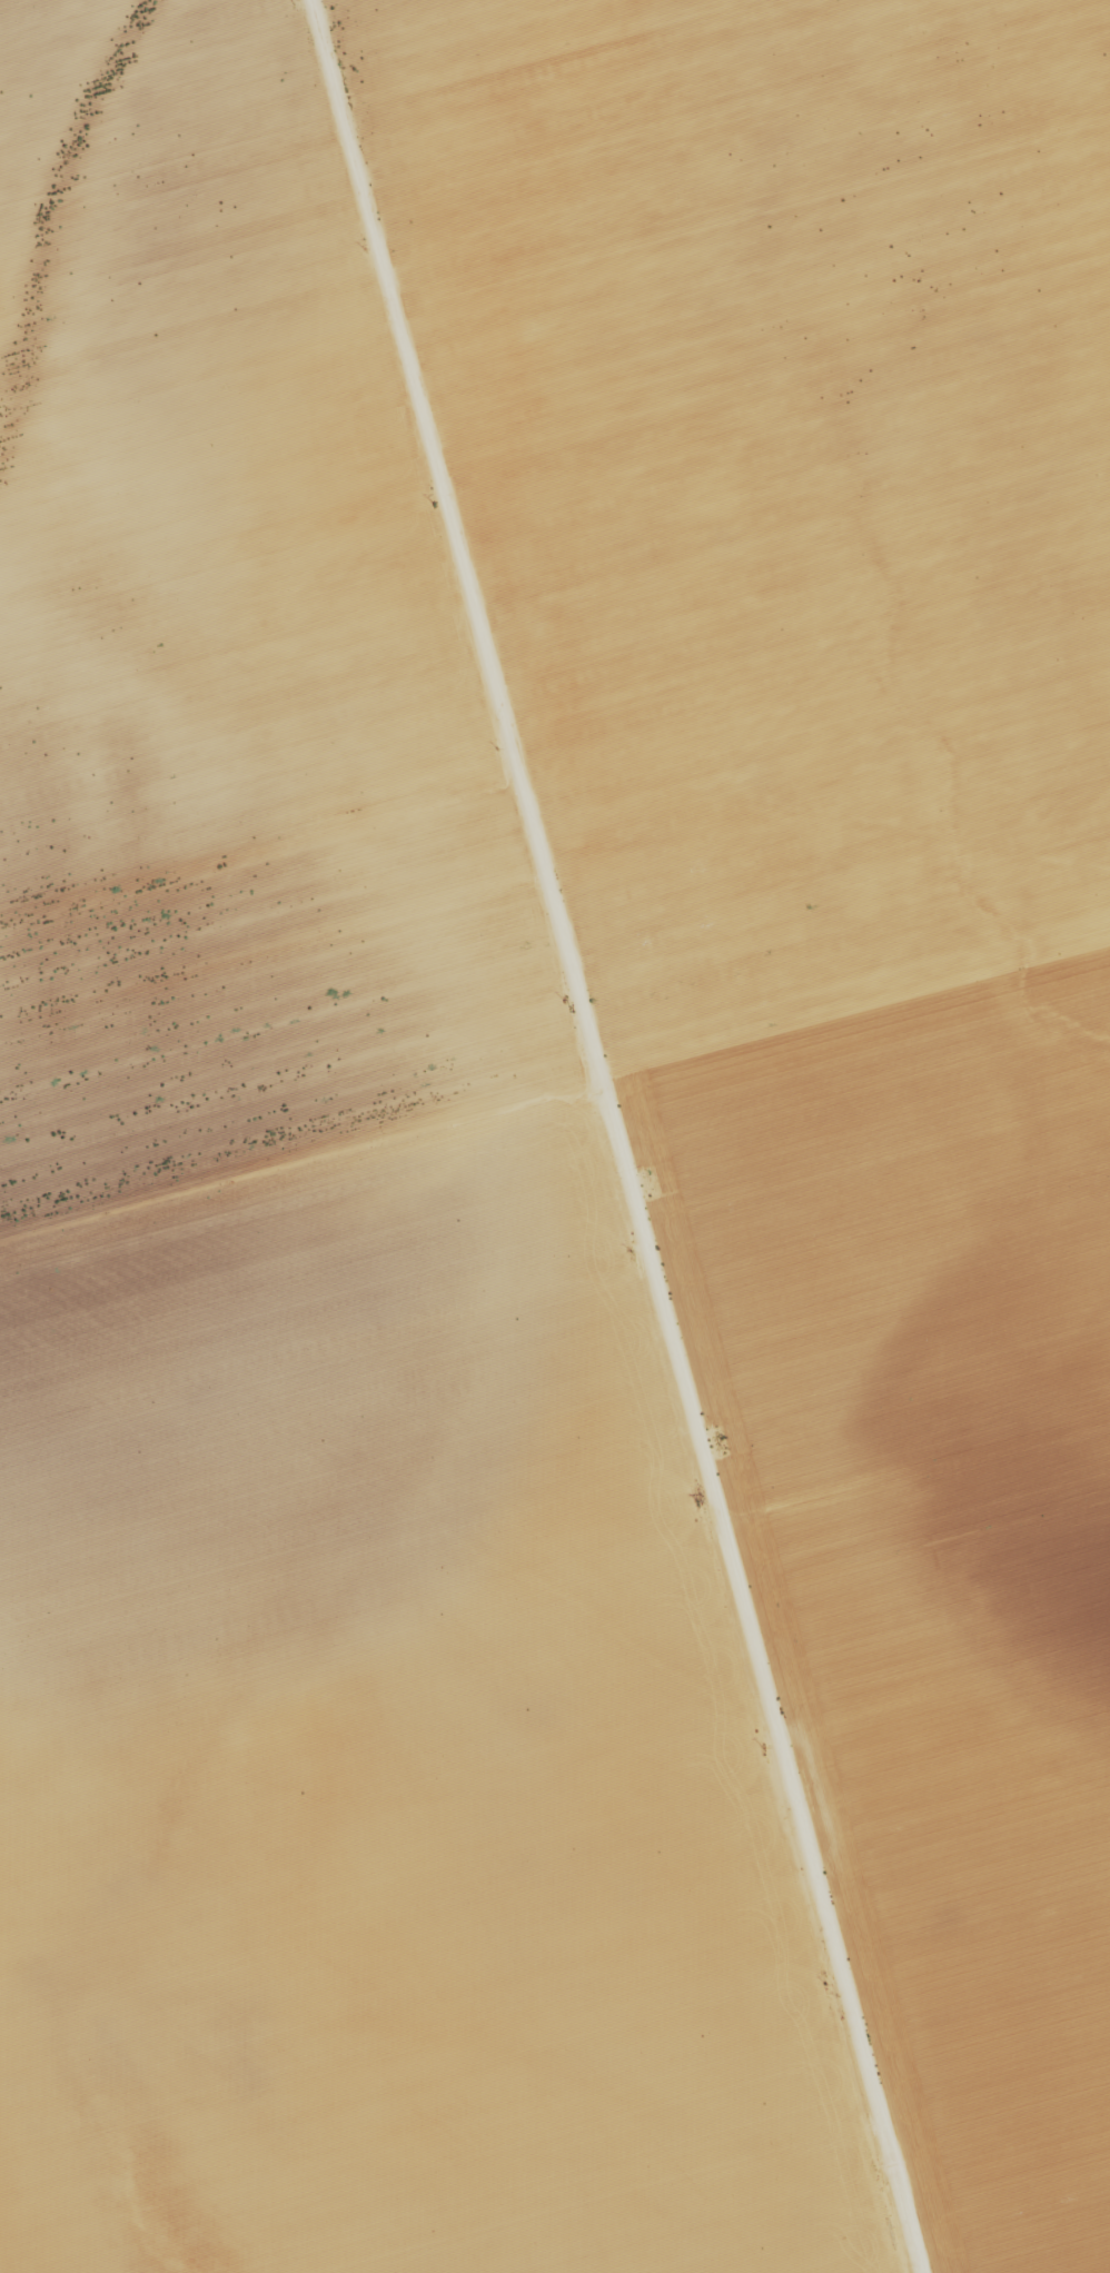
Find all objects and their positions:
road: (603, 1135)

